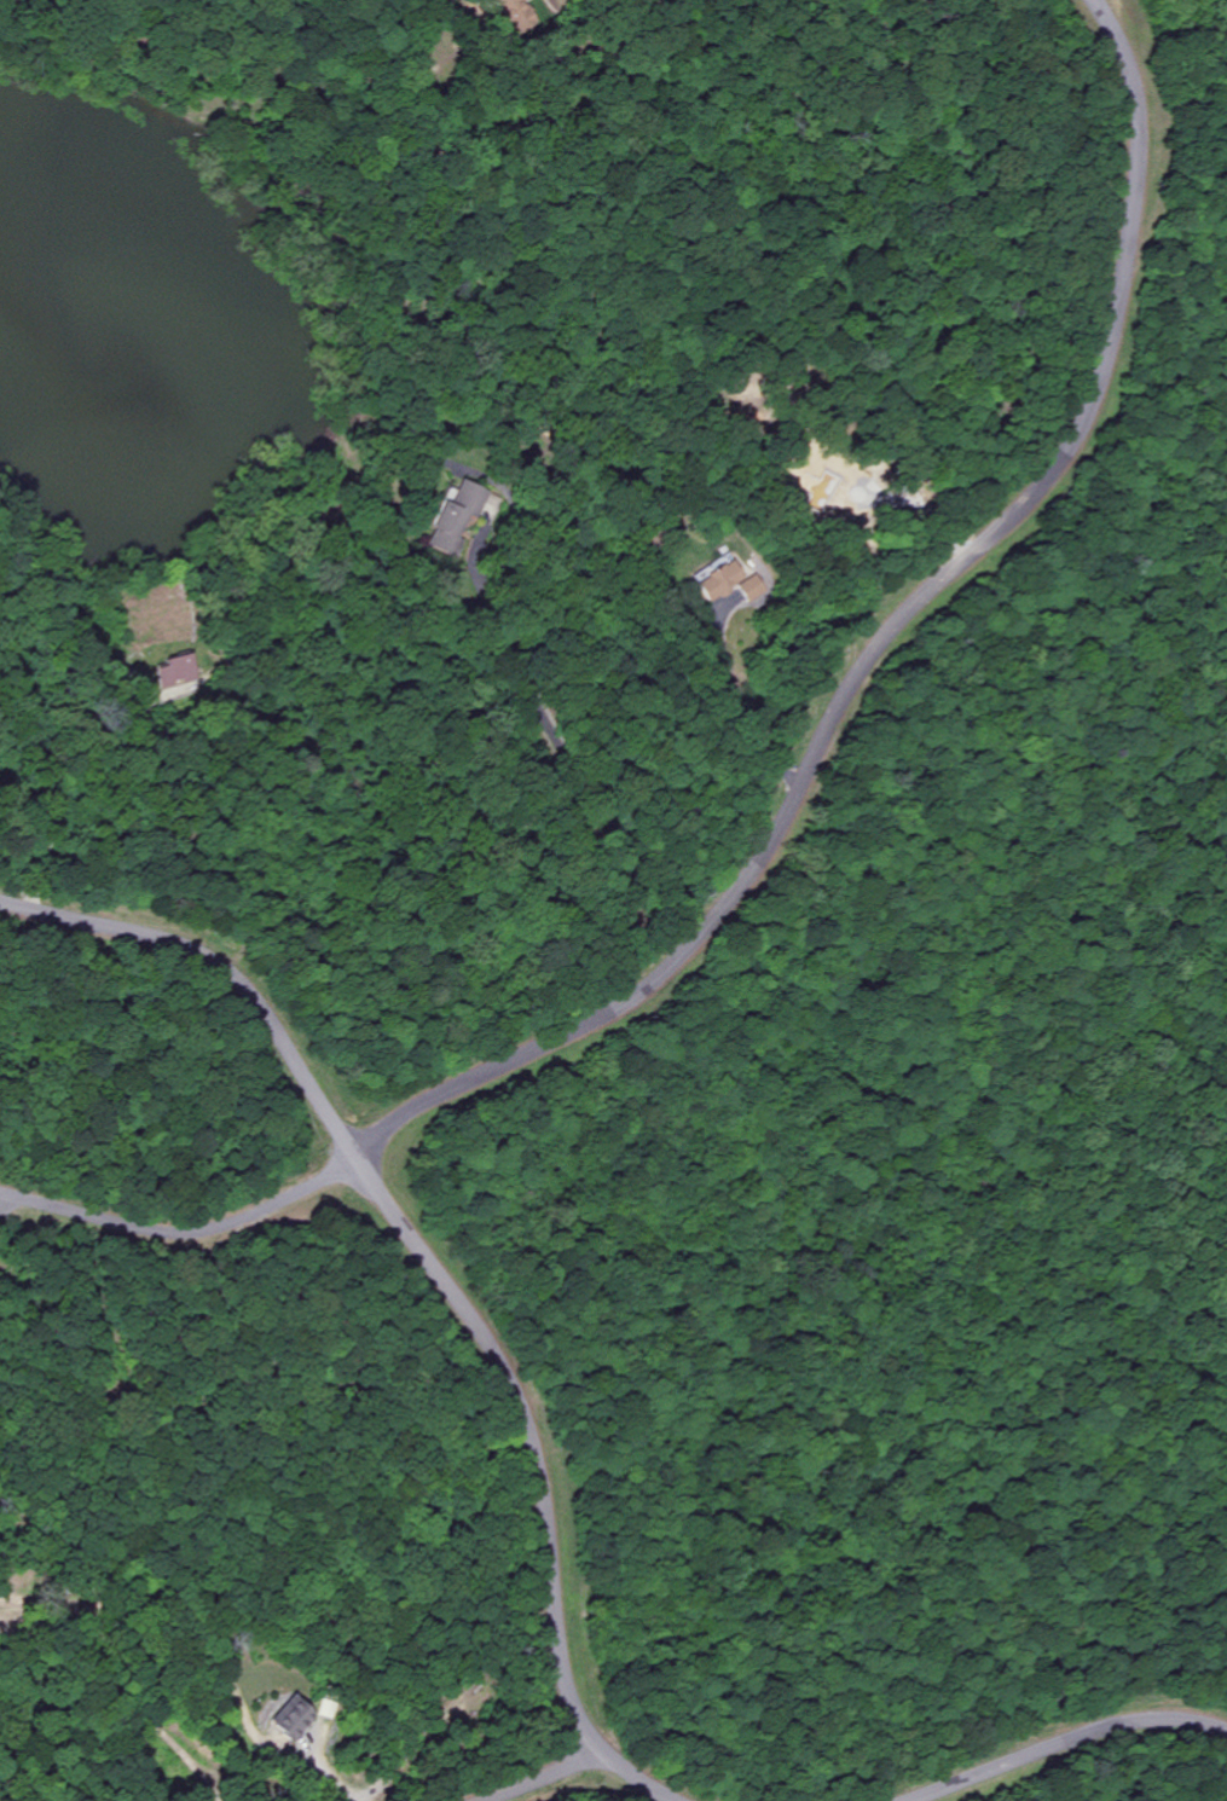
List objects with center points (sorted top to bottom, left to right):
building: (511, 5)
building: (720, 581)
road: (872, 653)
building: (175, 671)
road: (181, 1235)
road: (432, 1275)
building: (294, 1716)
road: (1066, 1743)
road: (545, 1778)

